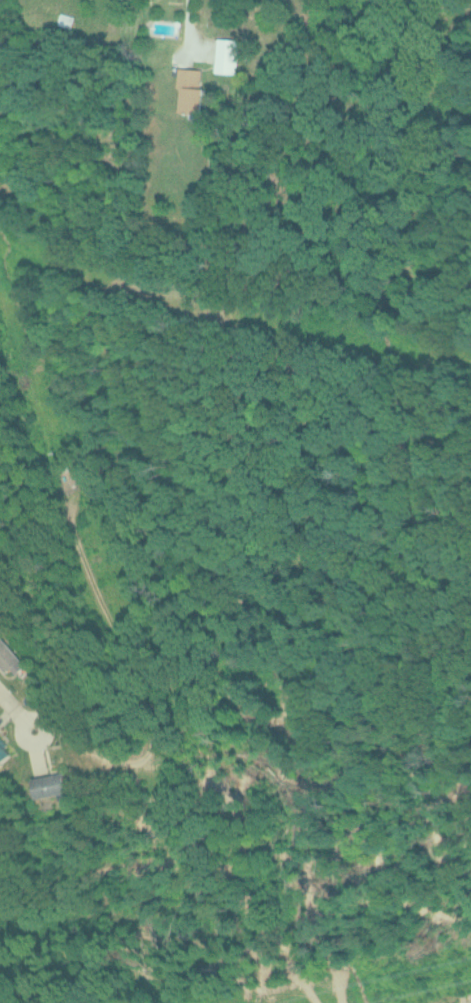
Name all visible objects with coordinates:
building: (226, 55)
building: (189, 90)
building: (0, 629)
building: (10, 659)
road: (13, 706)
road: (43, 735)
building: (4, 753)
building: (49, 784)

